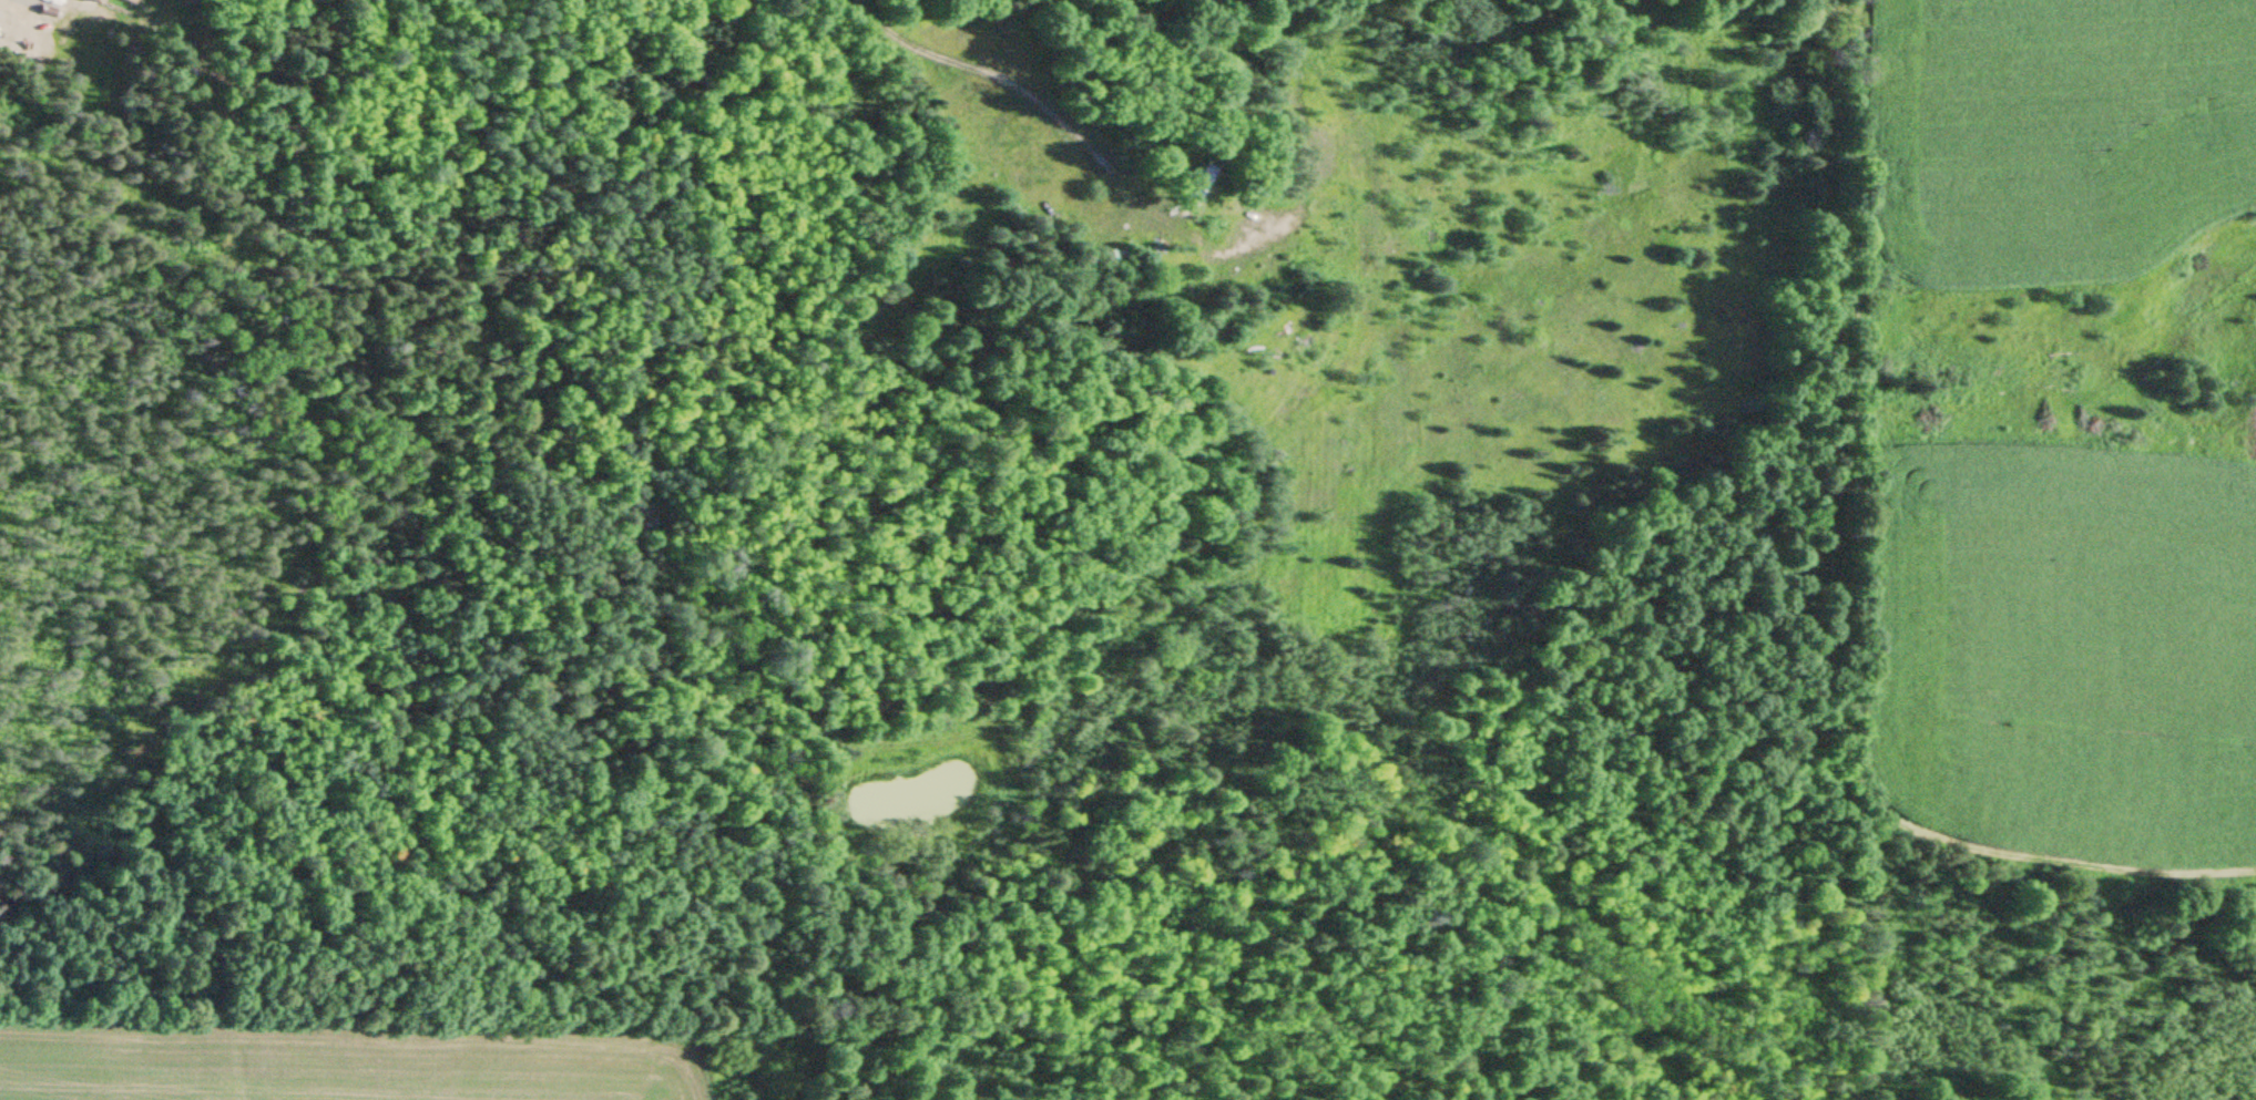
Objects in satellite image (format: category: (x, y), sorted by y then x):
building: (127, 0)
building: (1197, 187)

